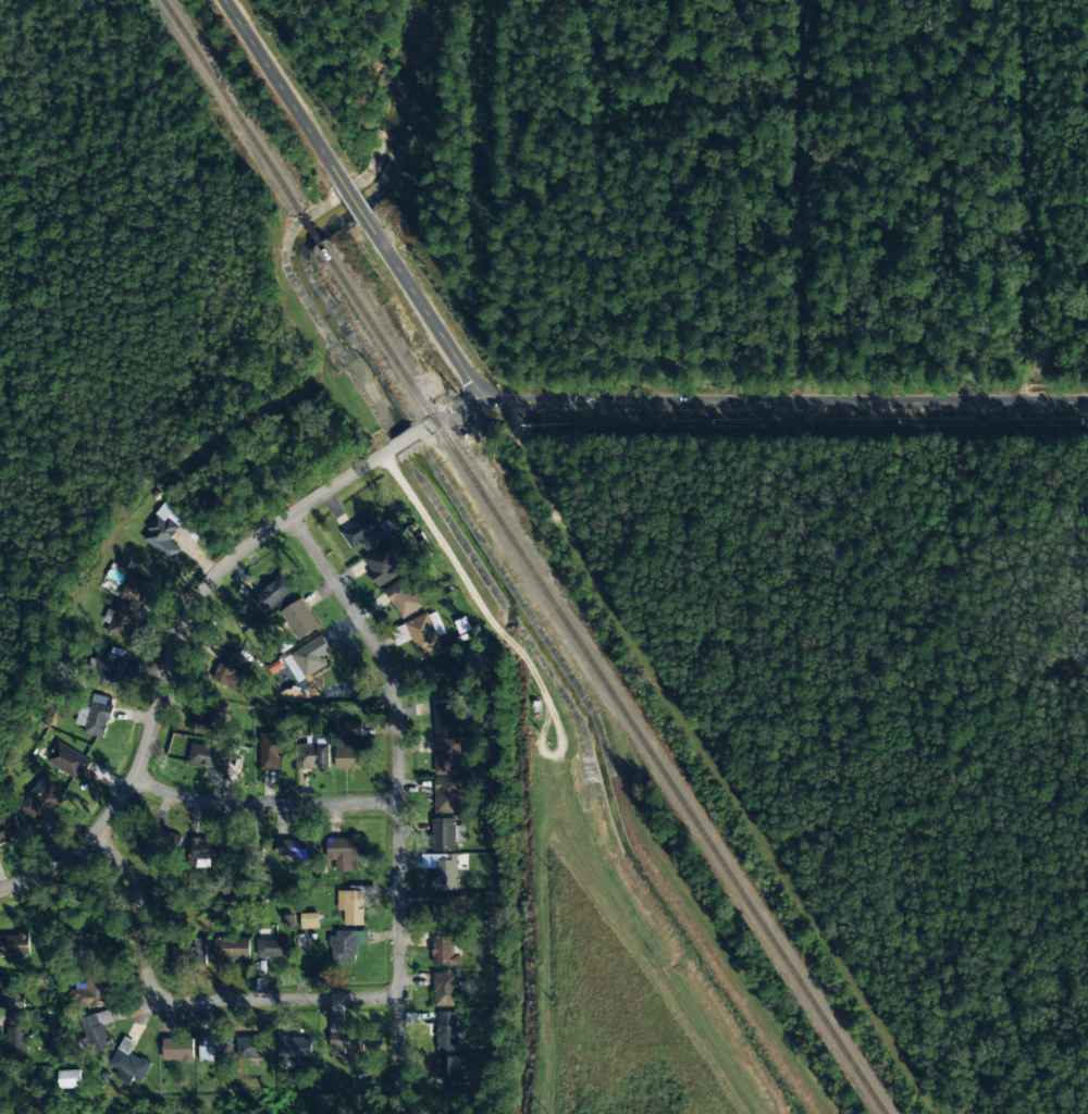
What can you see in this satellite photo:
road: (281, 88)
railway: (231, 107)
road: (353, 199)
railway: (310, 230)
road: (424, 312)
road: (750, 403)
road: (405, 440)
building: (369, 531)
building: (162, 537)
building: (383, 564)
building: (273, 594)
building: (403, 597)
building: (126, 608)
building: (300, 618)
building: (425, 632)
building: (400, 634)
road: (174, 653)
building: (308, 658)
building: (107, 667)
building: (228, 672)
building: (445, 673)
railway: (602, 679)
building: (445, 716)
building: (97, 719)
building: (211, 721)
building: (350, 729)
road: (395, 743)
building: (270, 751)
building: (312, 755)
building: (347, 755)
building: (209, 756)
building: (446, 756)
building: (67, 760)
building: (448, 794)
building: (41, 800)
road: (260, 803)
building: (8, 829)
building: (446, 833)
building: (163, 844)
building: (289, 847)
building: (206, 849)
building: (344, 852)
building: (440, 868)
building: (351, 905)
building: (443, 906)
road: (141, 908)
building: (309, 920)
building: (346, 944)
building: (14, 945)
building: (86, 948)
building: (232, 949)
building: (273, 949)
building: (445, 951)
building: (189, 952)
building: (445, 989)
building: (89, 991)
building: (11, 993)
road: (270, 999)
building: (17, 1031)
building: (97, 1031)
building: (346, 1041)
building: (447, 1045)
building: (254, 1047)
building: (293, 1047)
building: (213, 1049)
building: (177, 1050)
building: (128, 1063)
building: (1, 1068)
building: (70, 1078)

